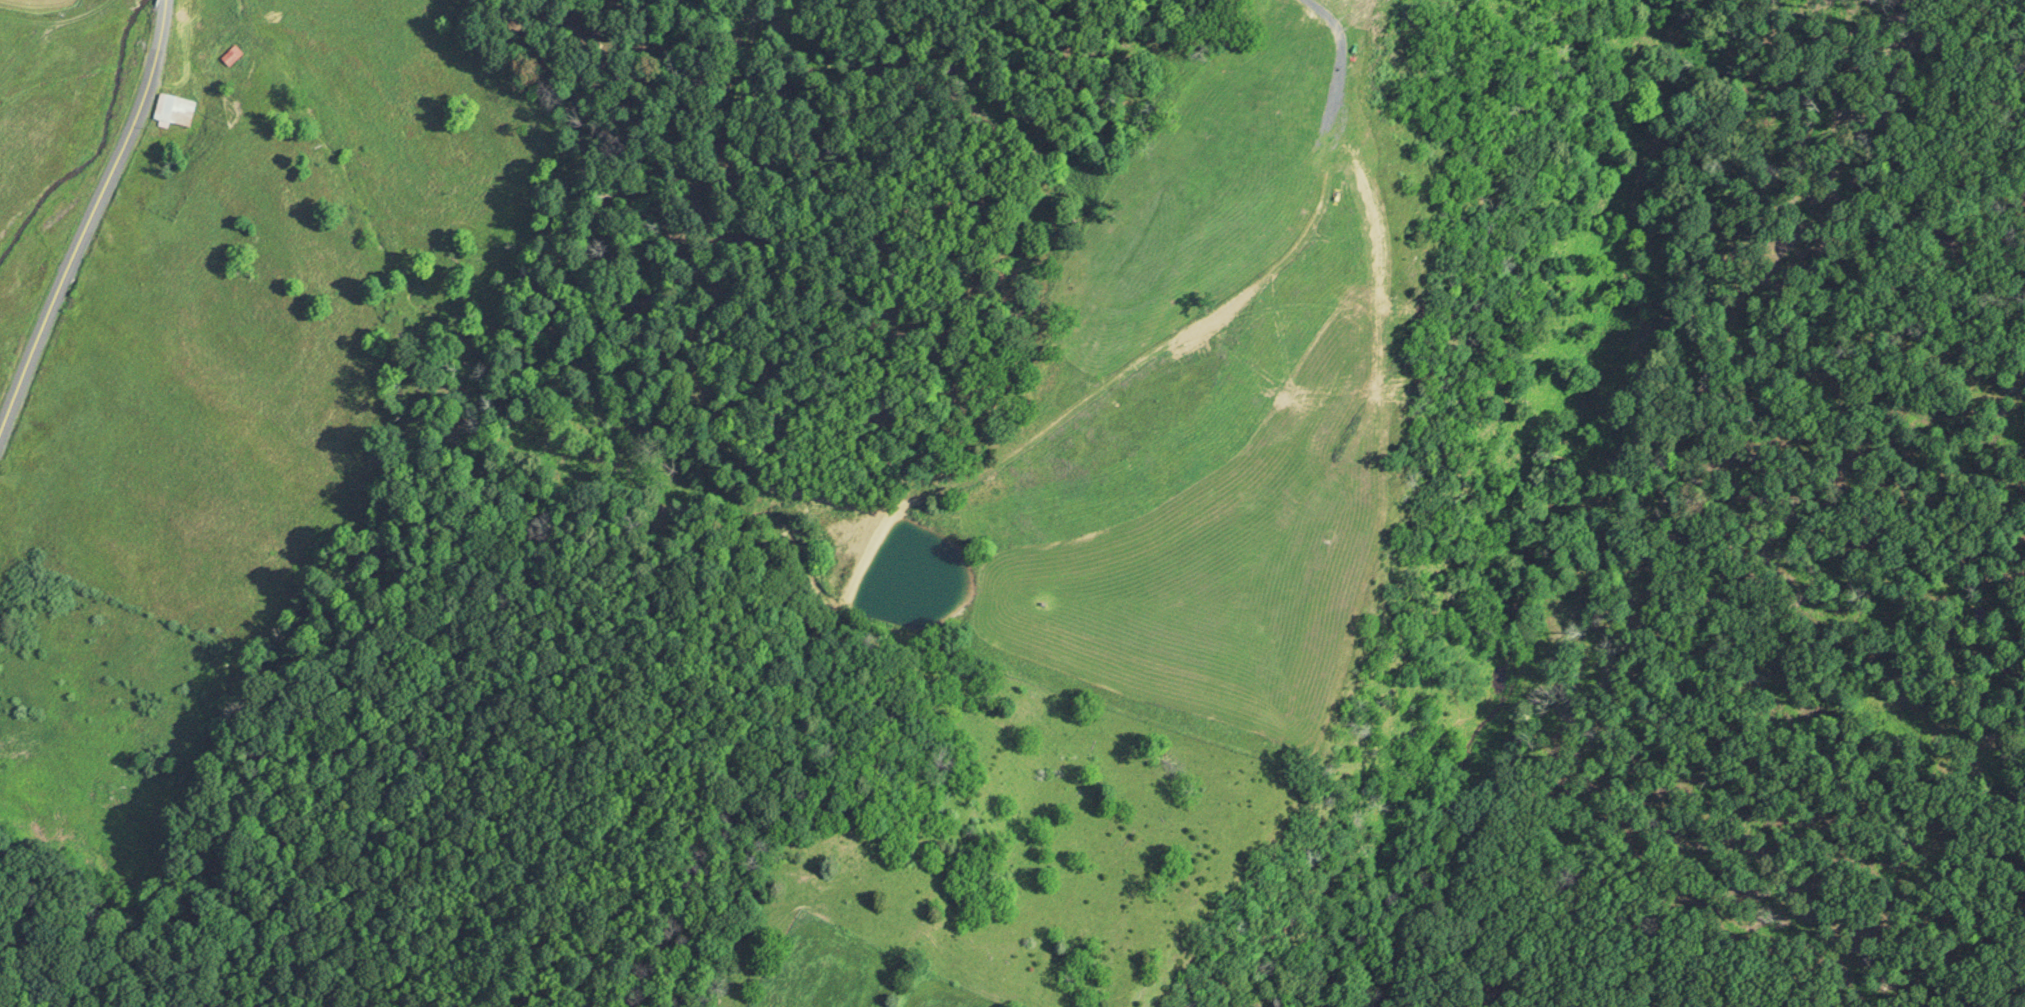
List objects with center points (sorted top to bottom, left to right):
building: (231, 55)
building: (173, 110)
road: (92, 224)

